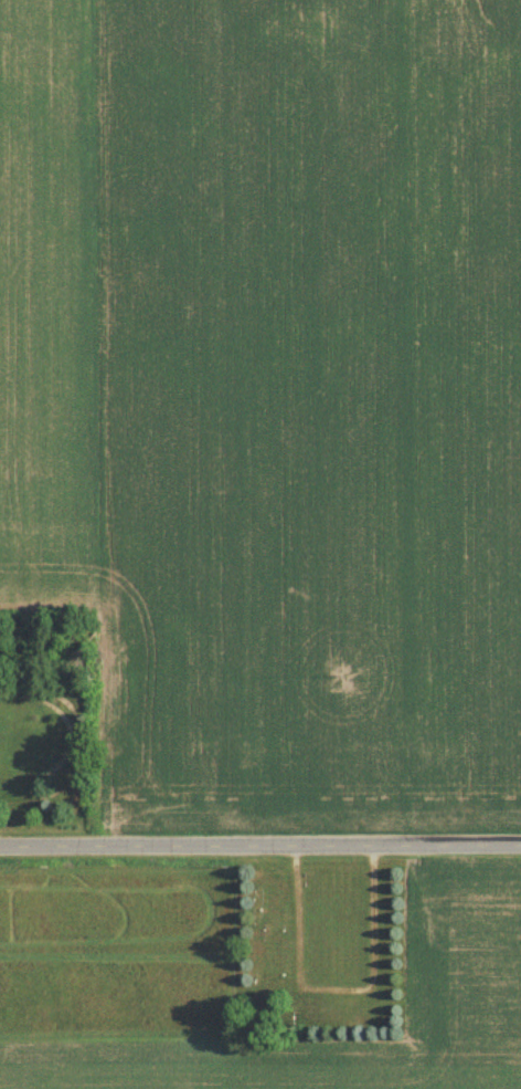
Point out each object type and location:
road: (260, 846)
park: (321, 951)

